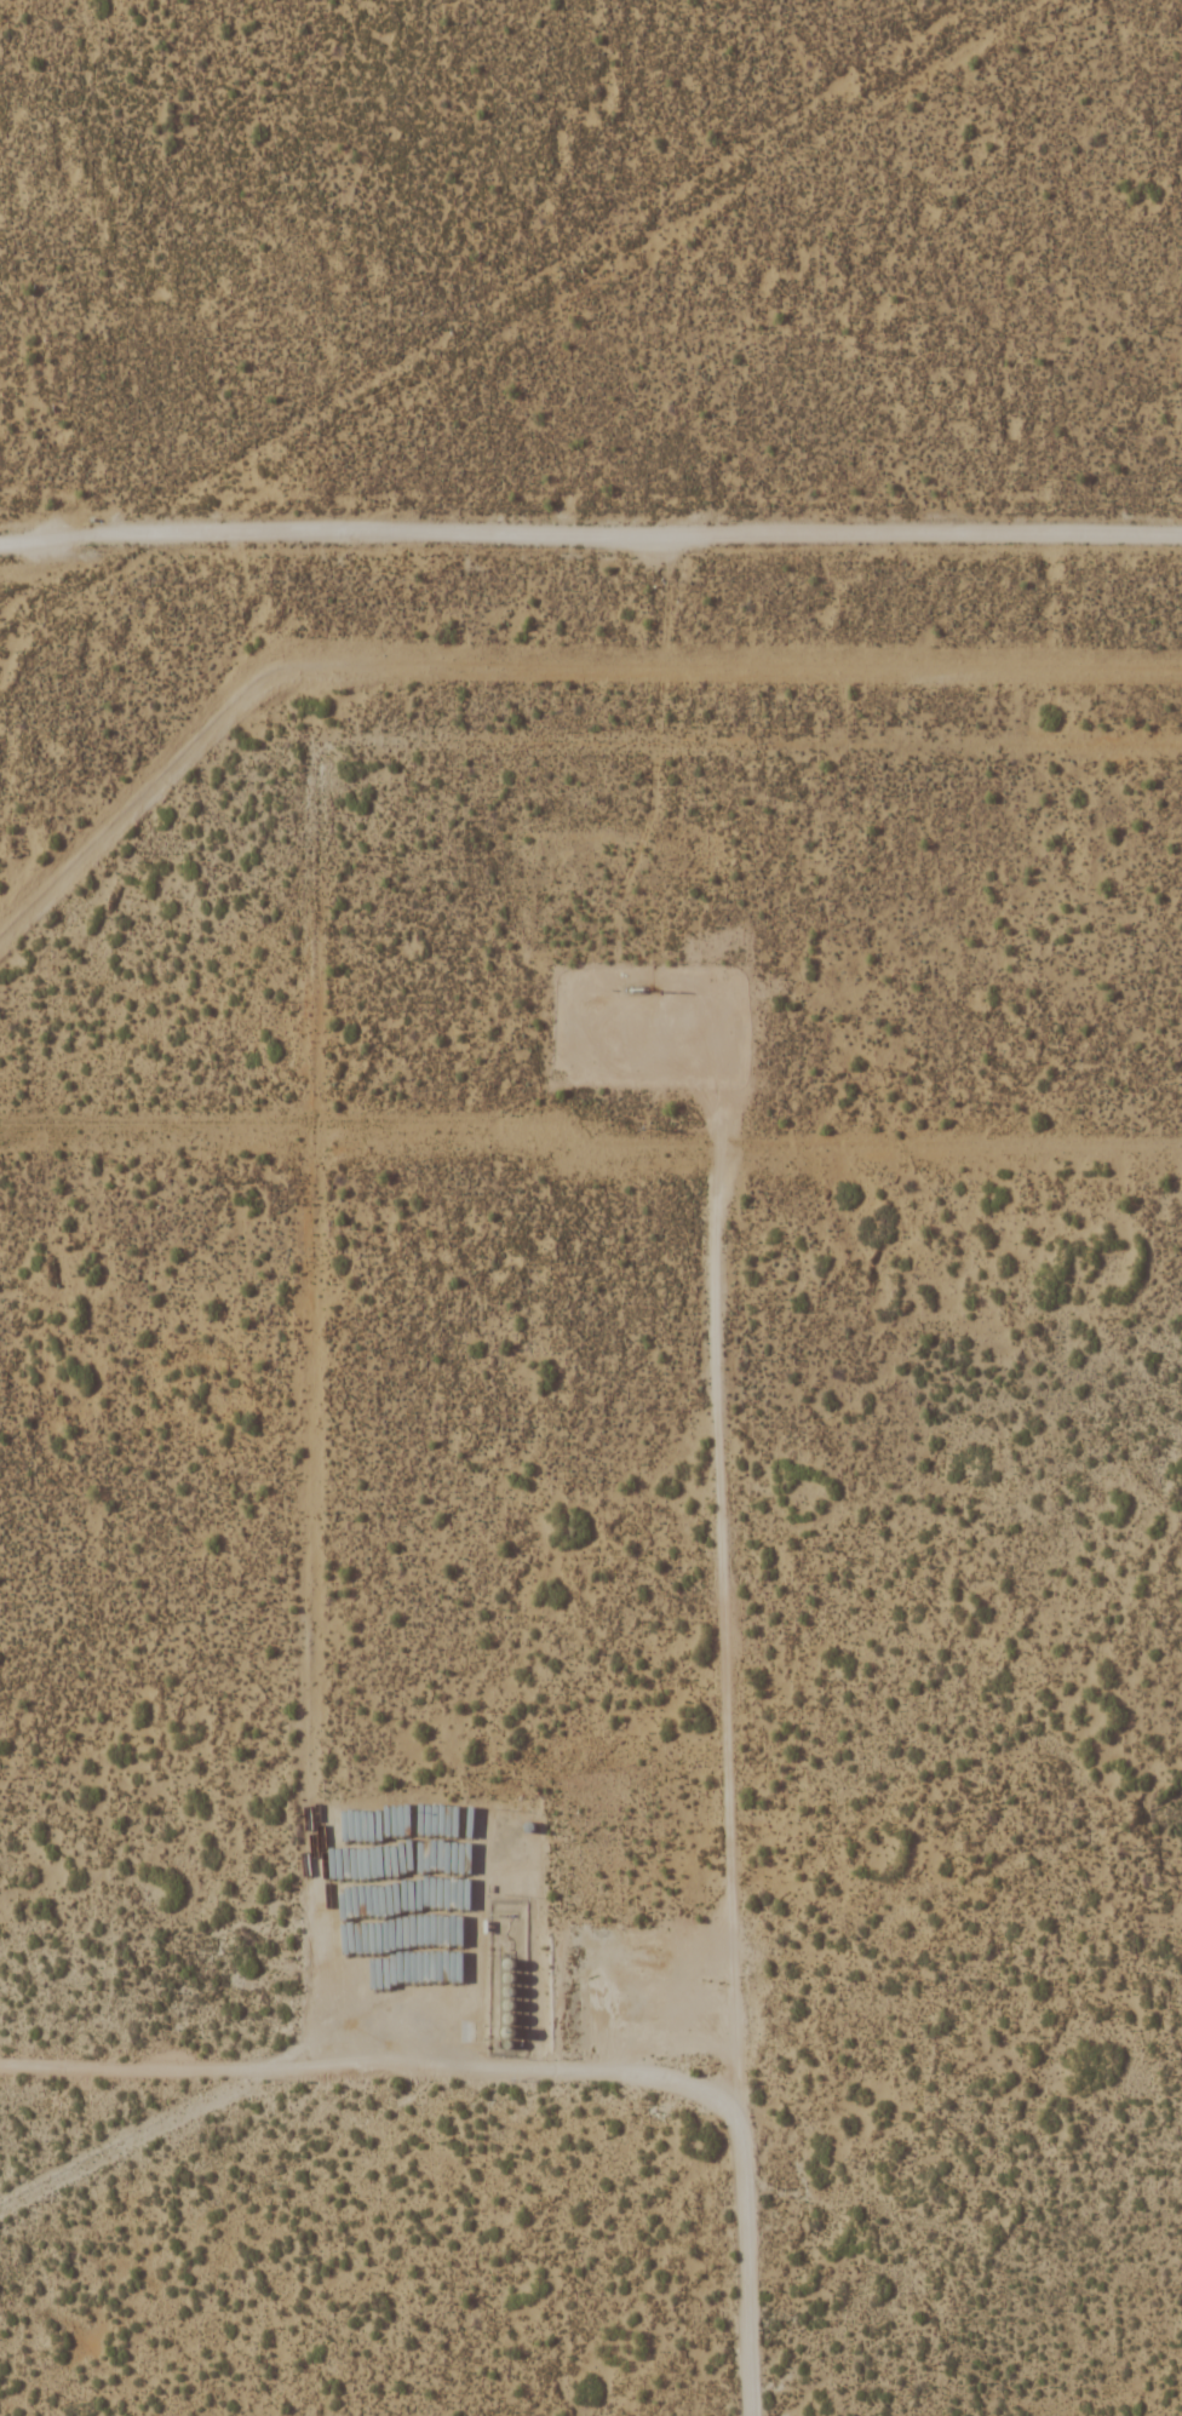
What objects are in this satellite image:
road: (591, 540)
petroleum well: (636, 986)
road: (750, 1717)
building: (378, 1823)
building: (331, 1938)
road: (389, 2055)

